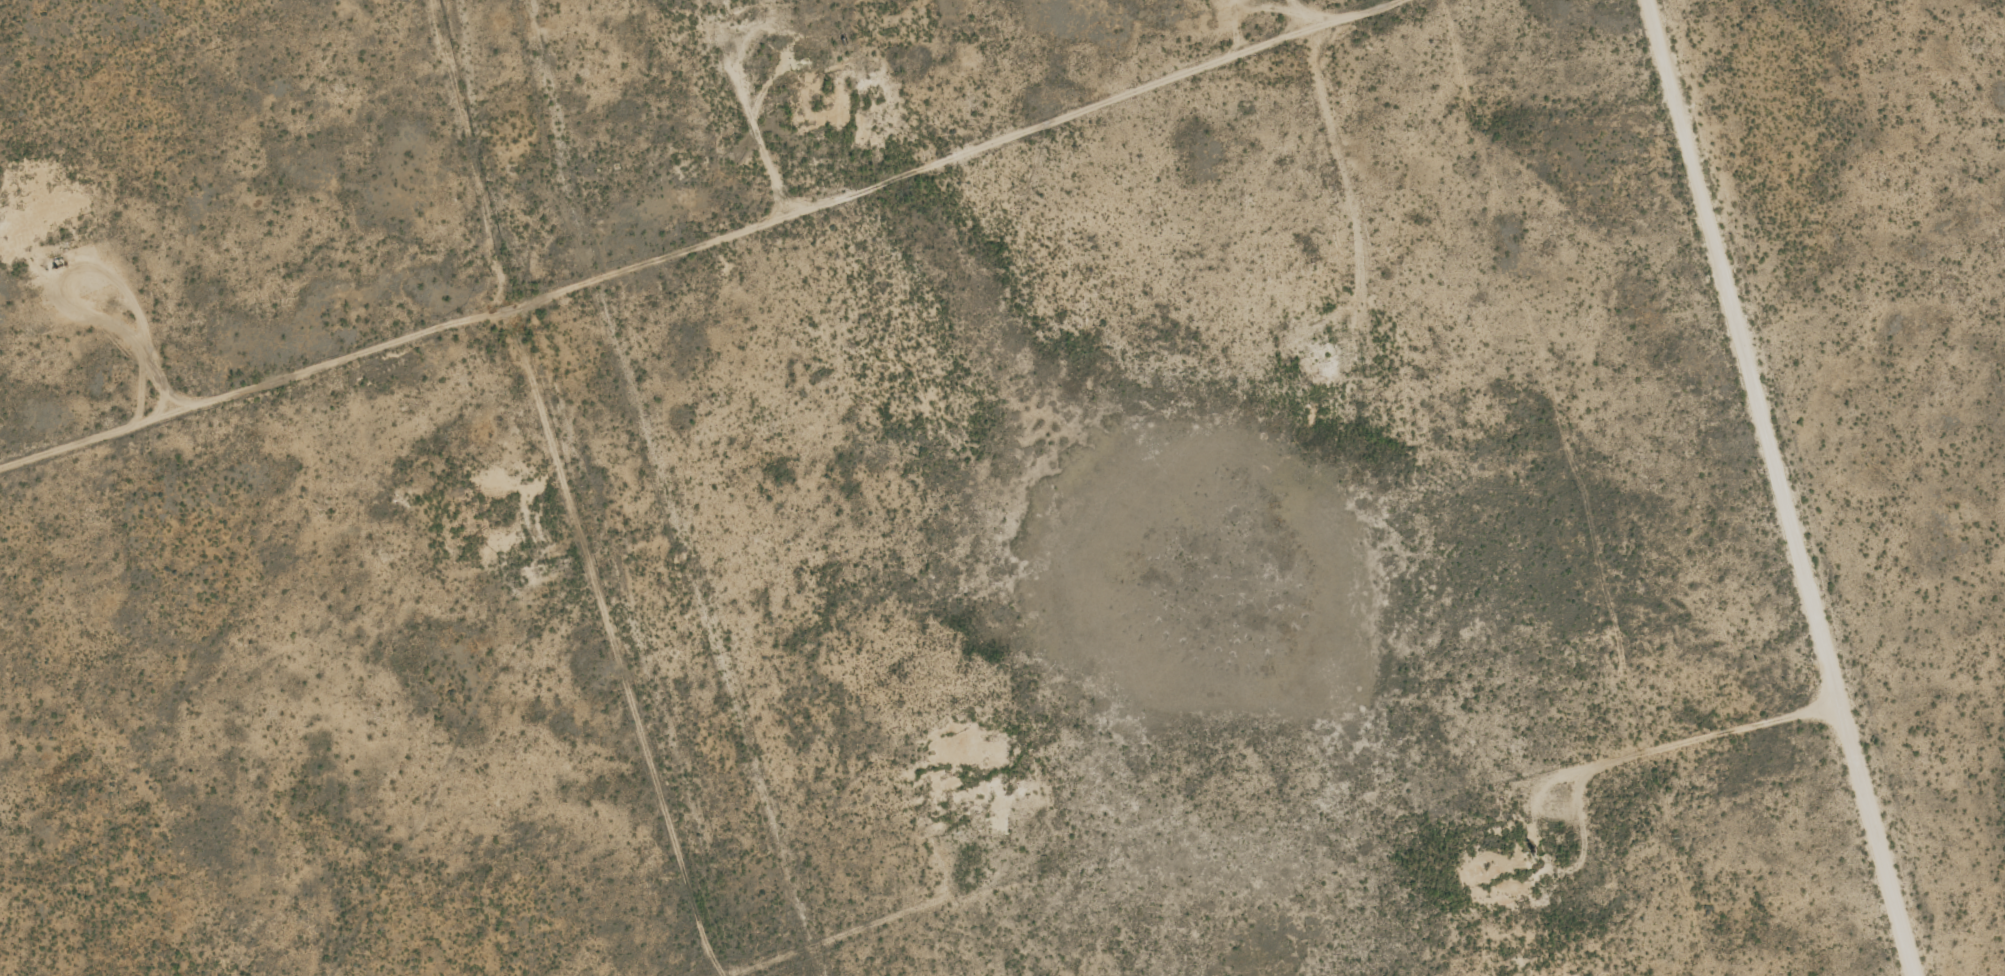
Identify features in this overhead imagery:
road: (462, 149)
road: (1372, 199)
road: (691, 237)
road: (1788, 488)

